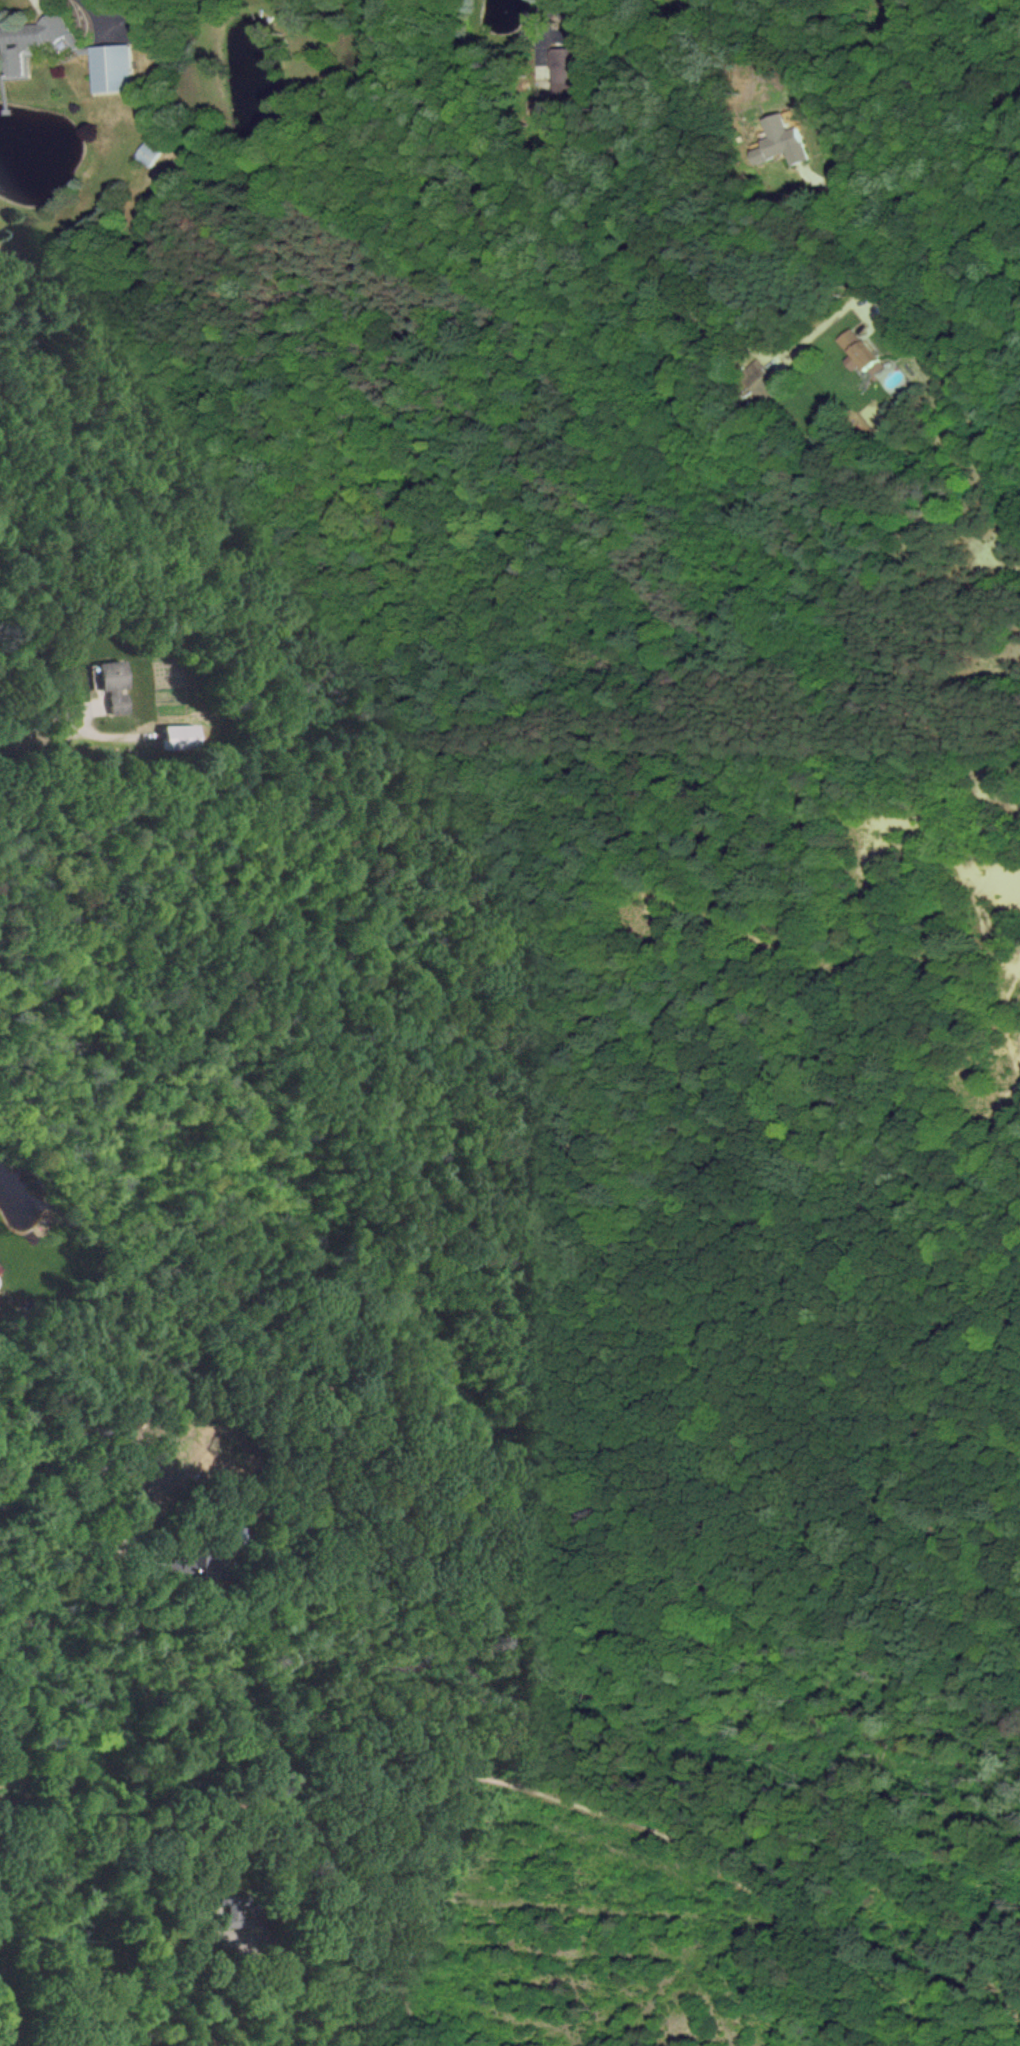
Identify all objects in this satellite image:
road: (101, 10)
building: (31, 41)
building: (109, 68)
building: (564, 72)
building: (778, 142)
building: (147, 154)
road: (917, 190)
building: (854, 350)
building: (759, 379)
building: (106, 686)
road: (25, 723)
building: (174, 736)
road: (61, 1522)
building: (192, 1563)
building: (228, 1917)
road: (241, 2003)

